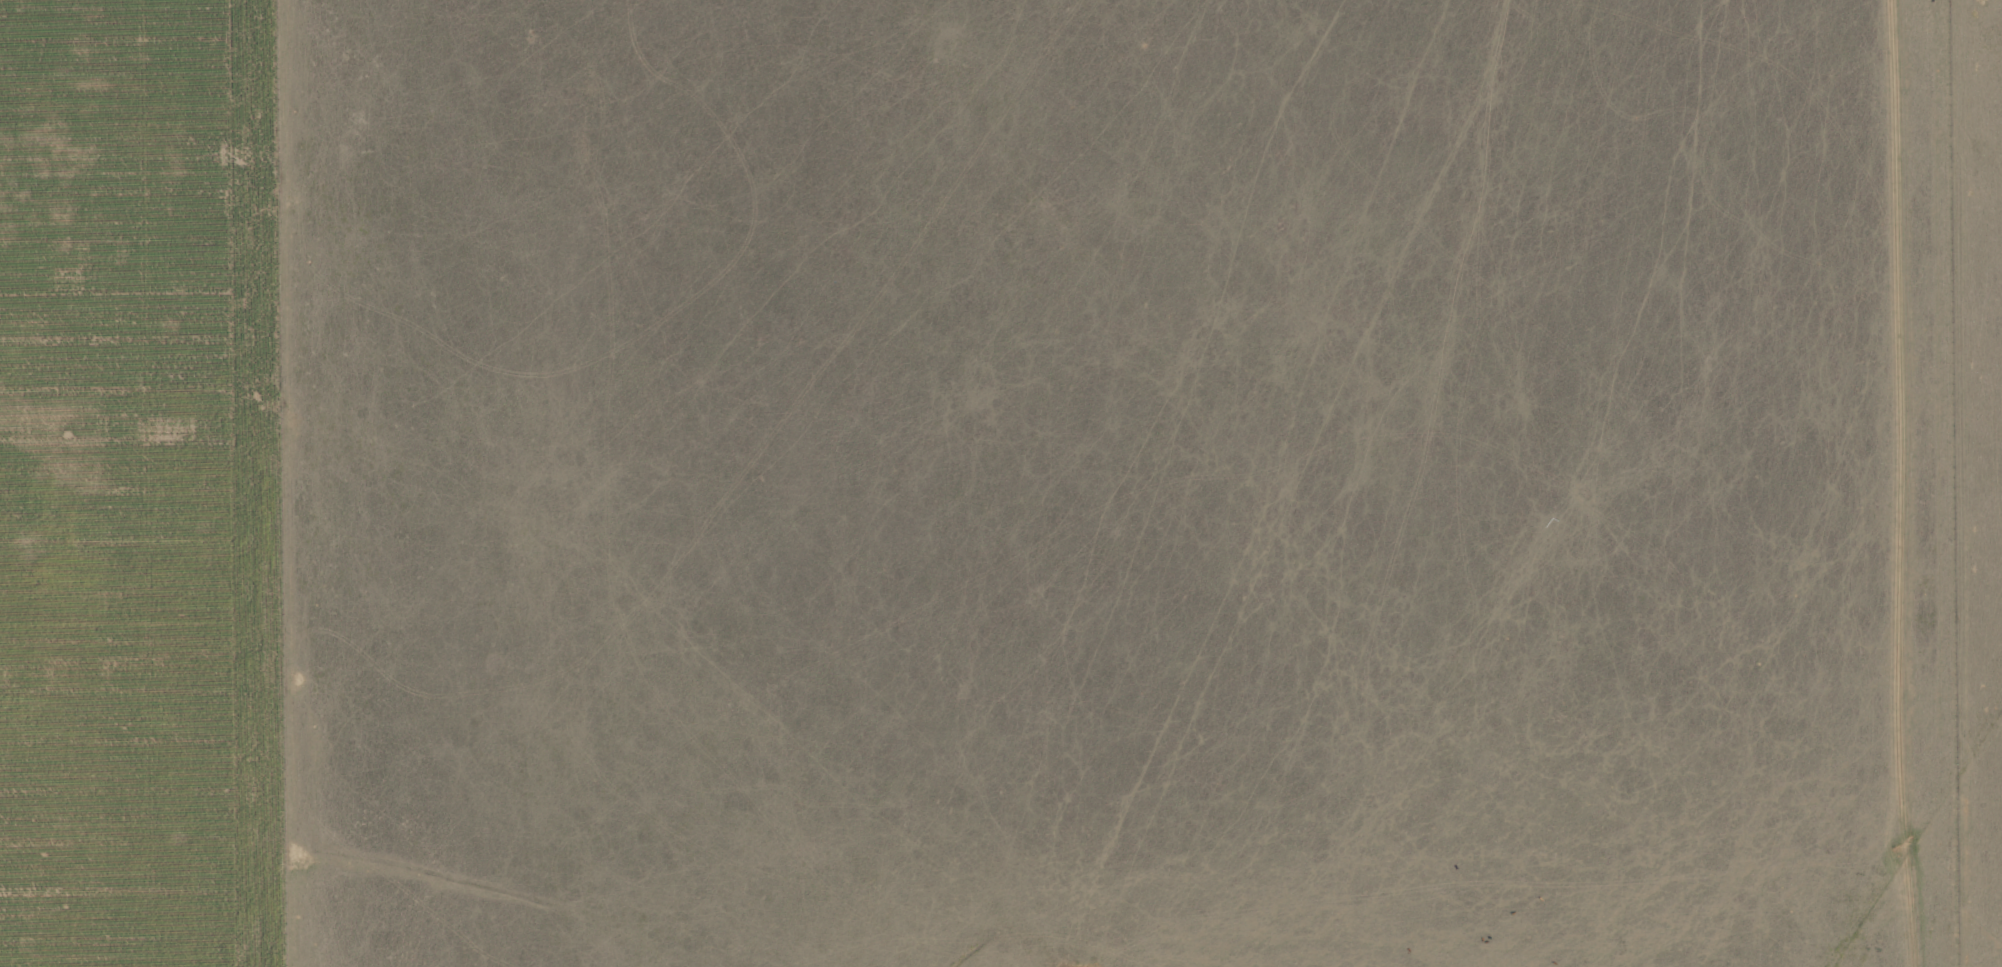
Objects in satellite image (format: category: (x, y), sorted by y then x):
road: (1974, 349)

